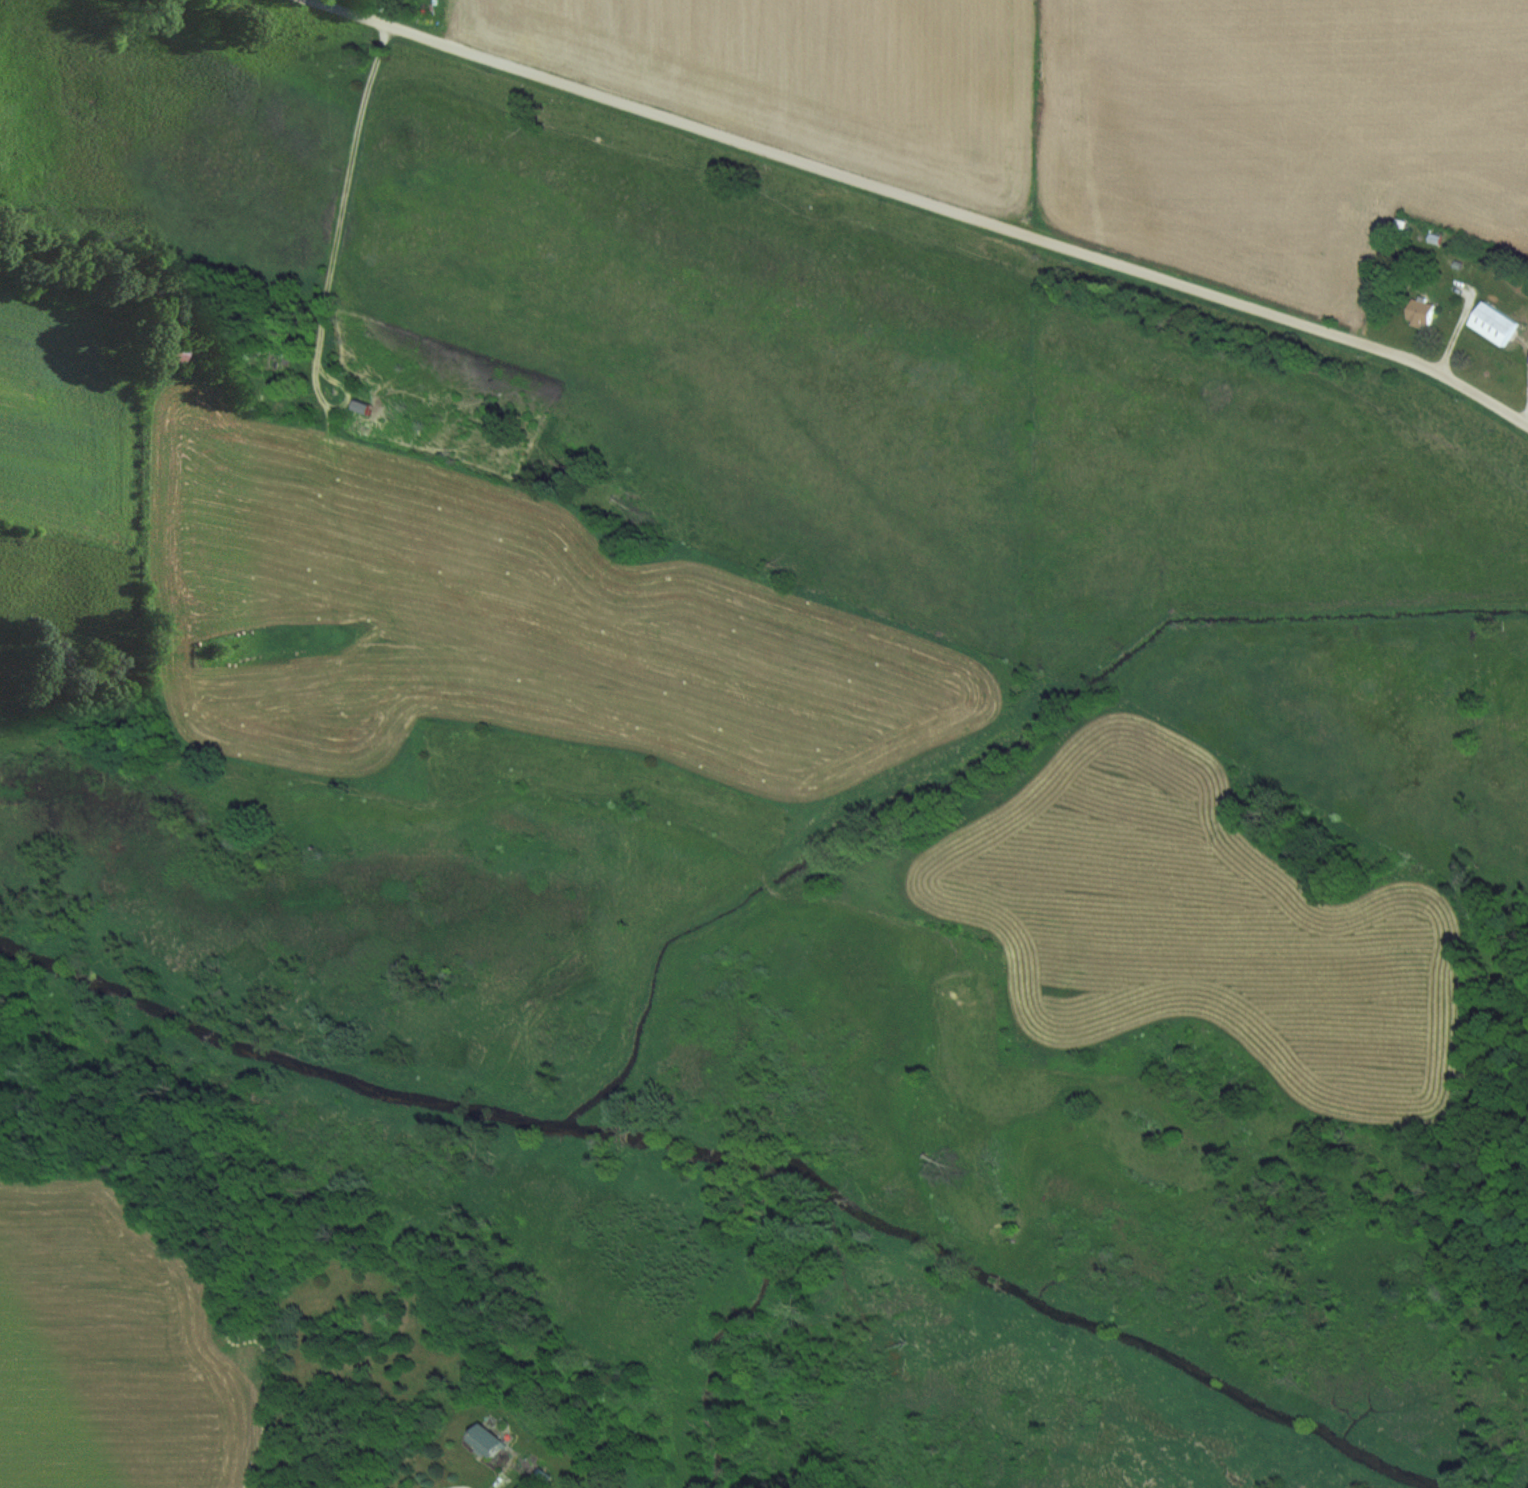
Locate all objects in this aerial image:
road: (343, 195)
road: (924, 202)
building: (1417, 313)
building: (1488, 324)
building: (491, 1441)
road: (451, 1486)

